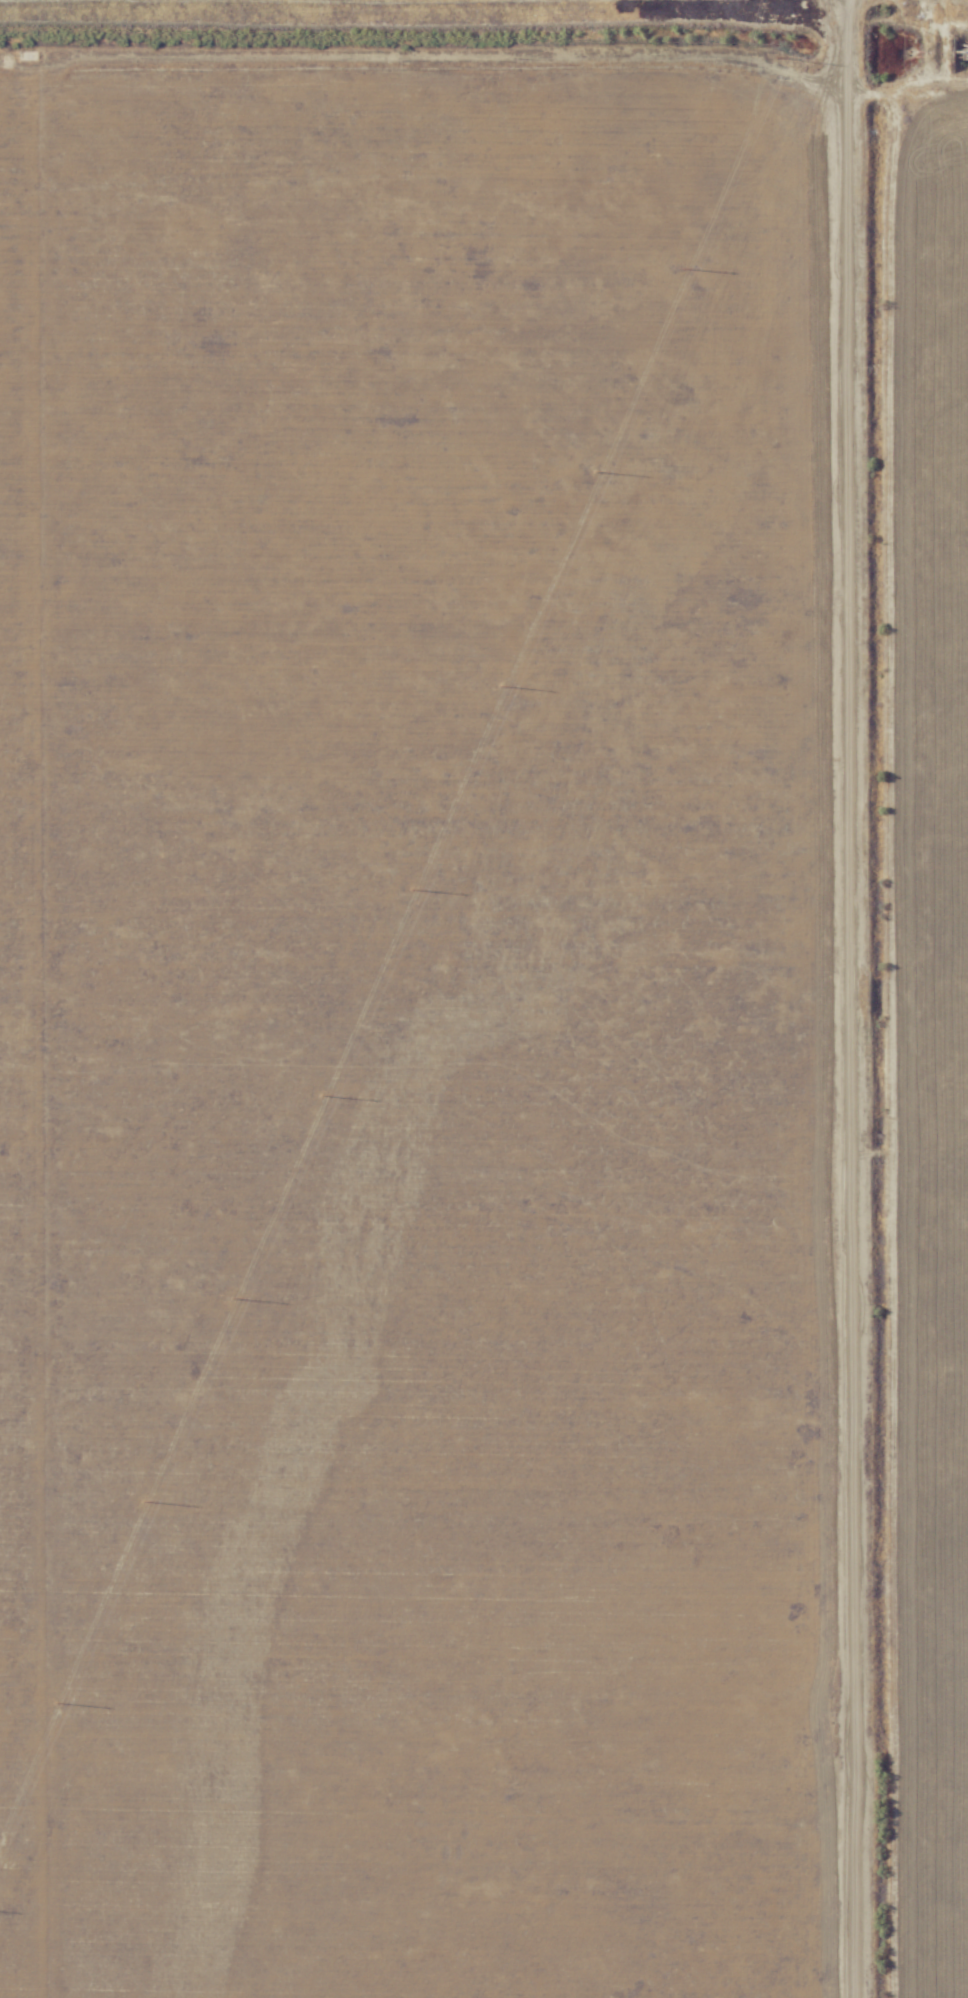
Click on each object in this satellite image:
road: (860, 998)

